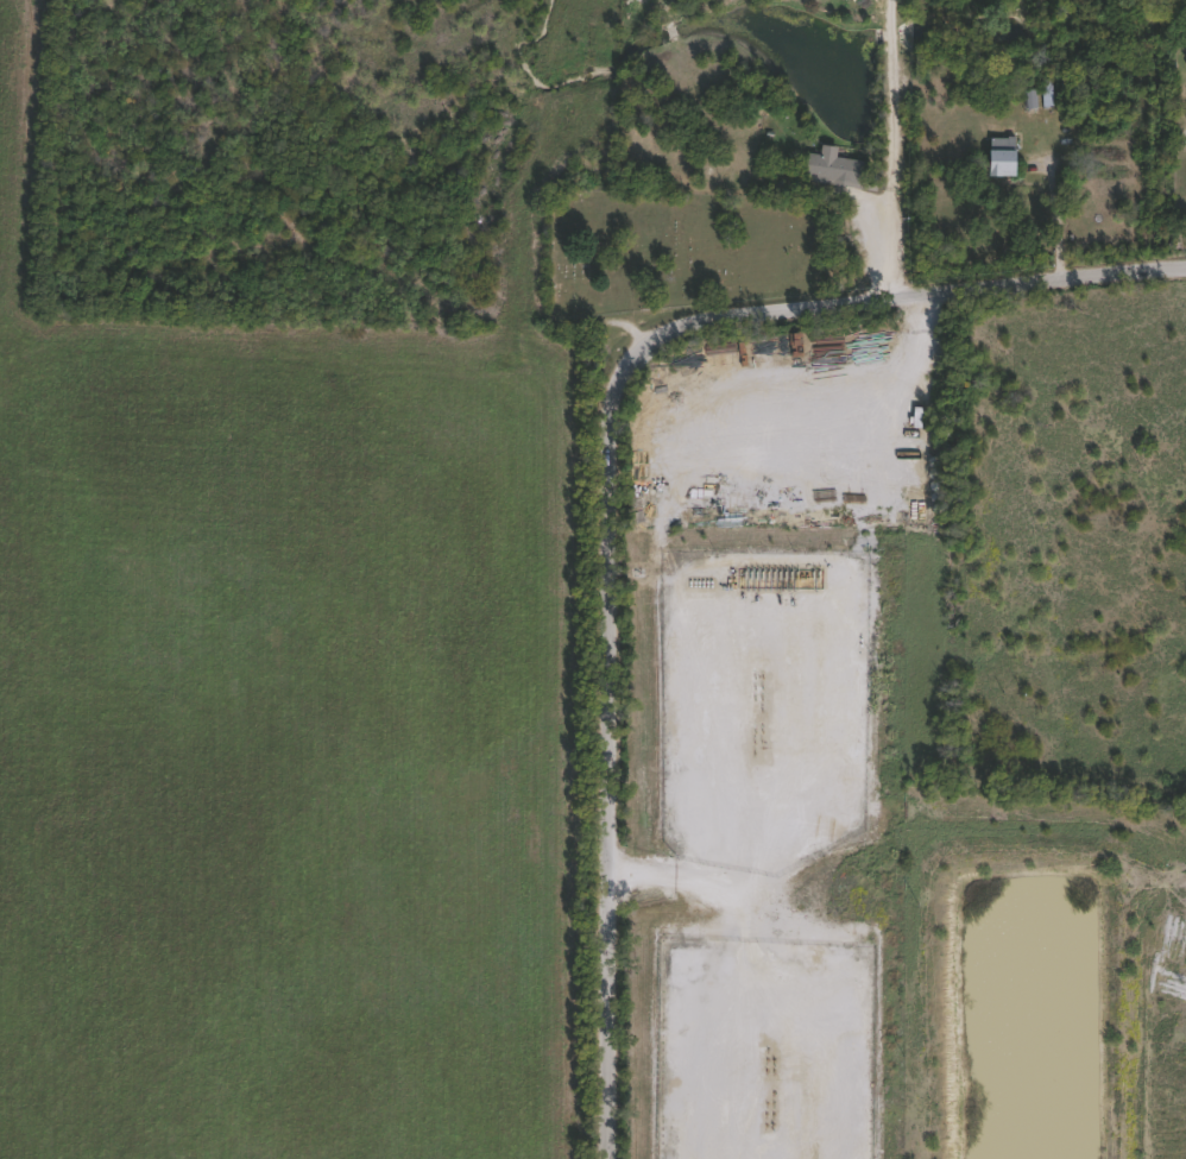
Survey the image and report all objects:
road: (898, 94)
building: (1046, 95)
building: (1004, 159)
building: (837, 170)
road: (900, 242)
park: (681, 253)
road: (611, 470)
building: (669, 966)
building: (763, 1008)

